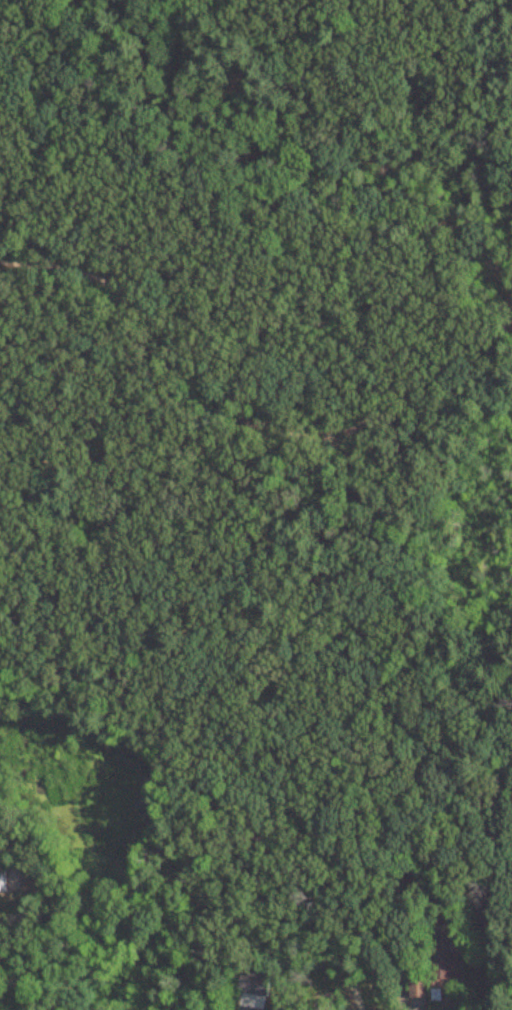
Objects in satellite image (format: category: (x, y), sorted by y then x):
road: (476, 275)
road: (243, 420)
road: (317, 833)
building: (3, 878)
road: (441, 886)
road: (289, 915)
road: (397, 921)
building: (446, 959)
building: (255, 984)
building: (418, 987)

